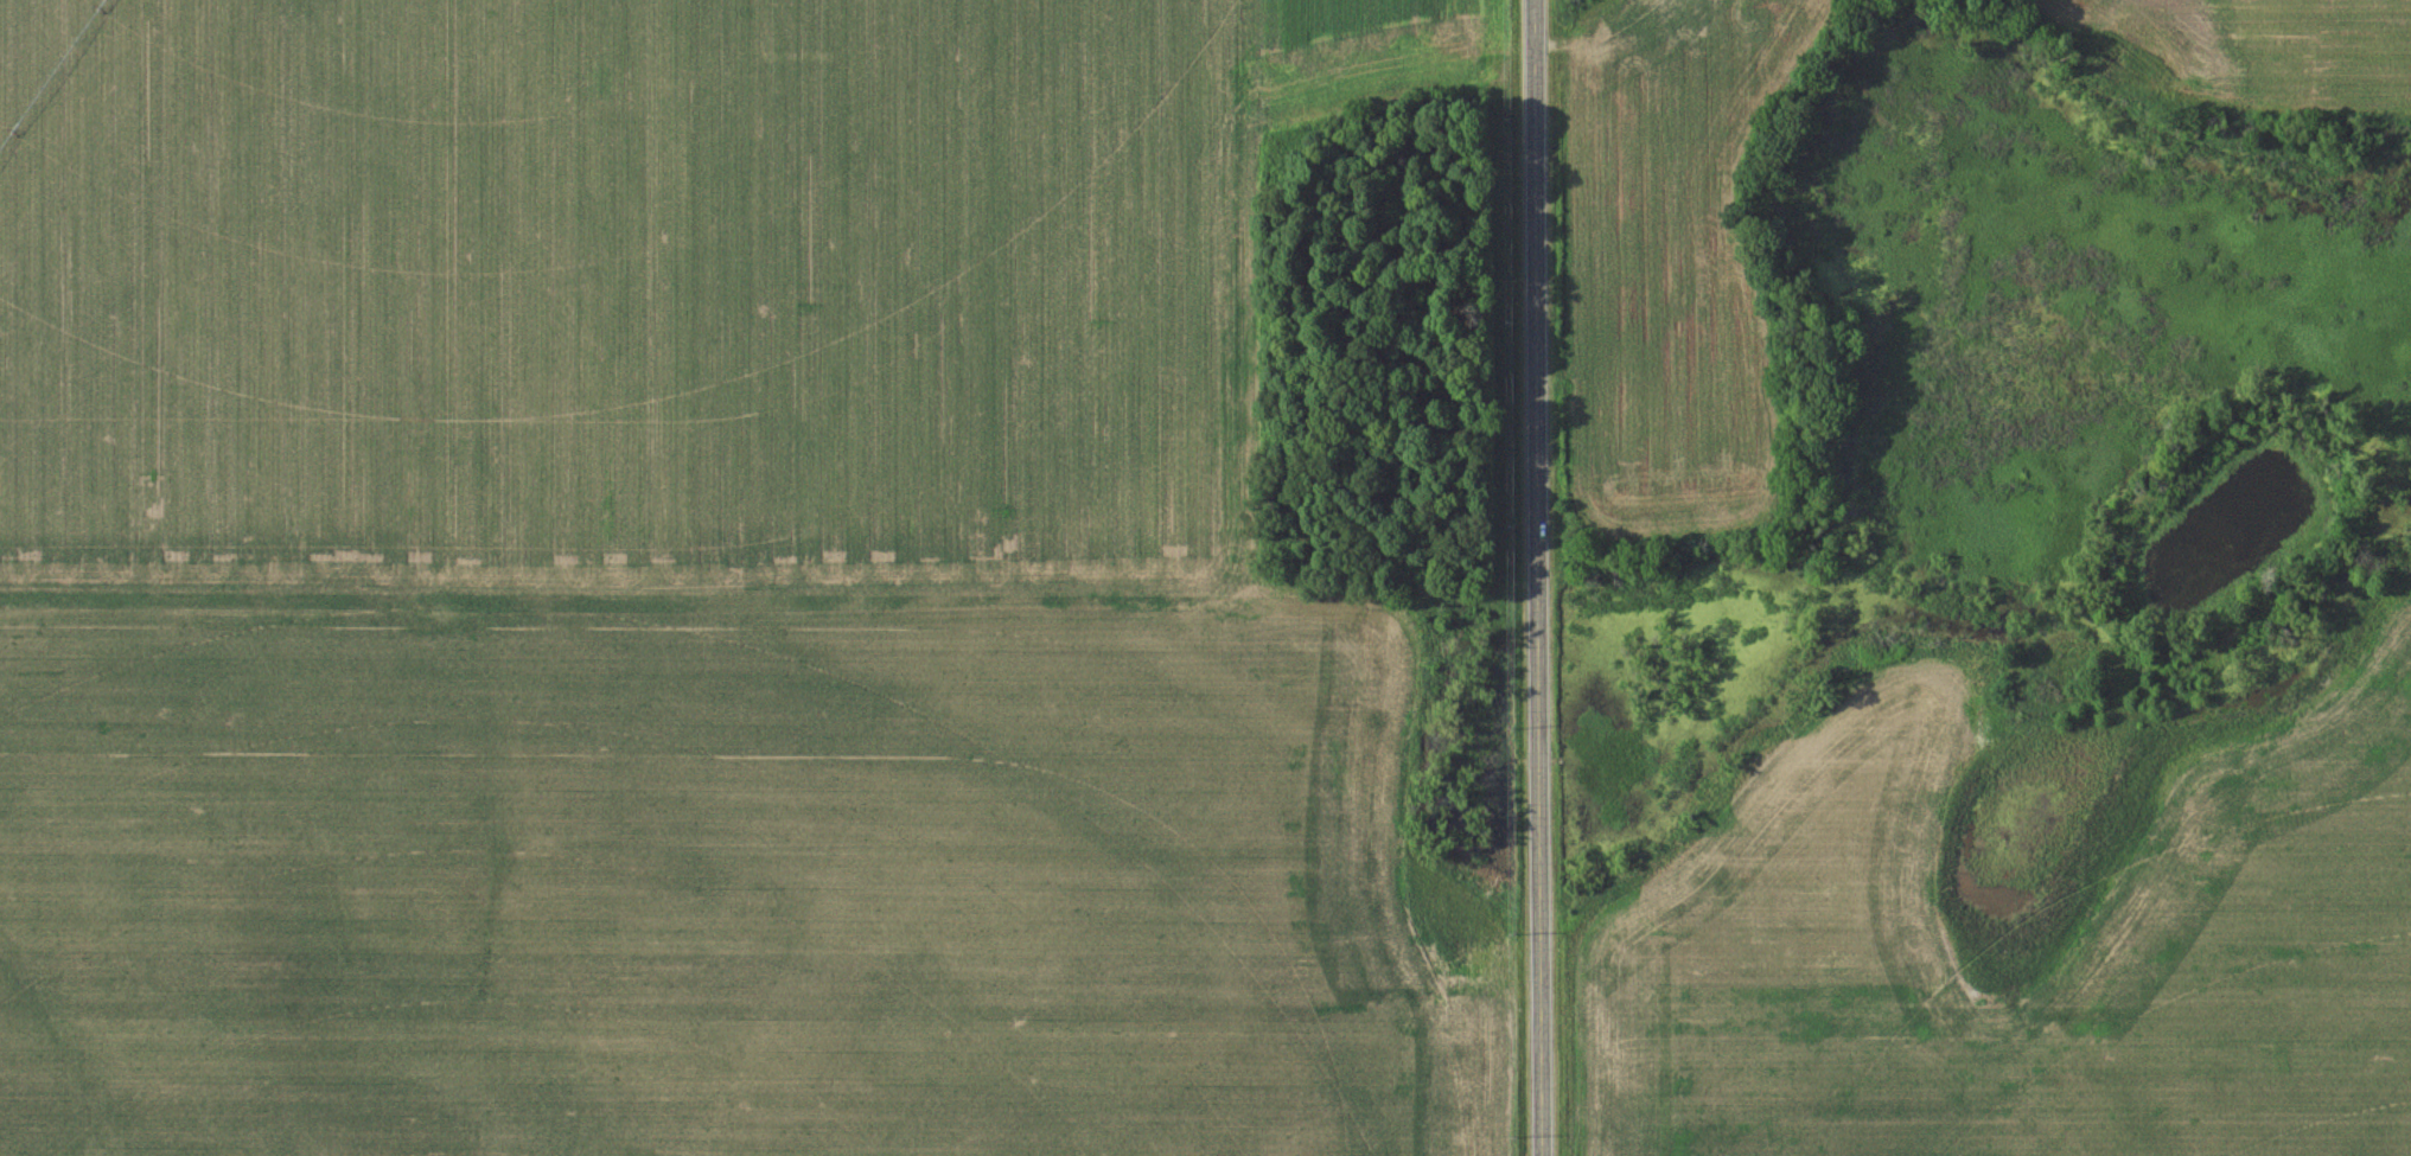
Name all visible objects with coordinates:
road: (1543, 577)

